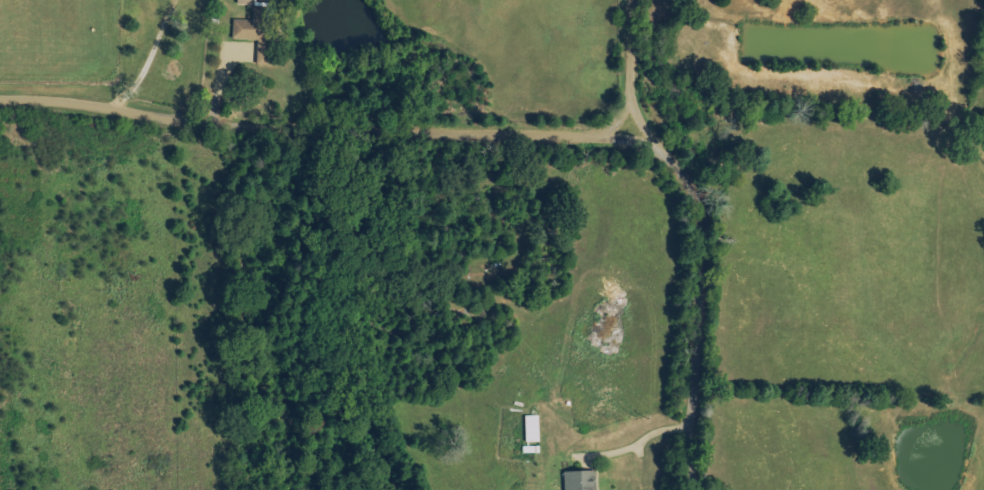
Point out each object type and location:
building: (246, 1)
building: (259, 31)
road: (119, 52)
road: (636, 64)
road: (318, 119)
road: (699, 297)
building: (532, 429)
road: (635, 444)
building: (580, 480)

